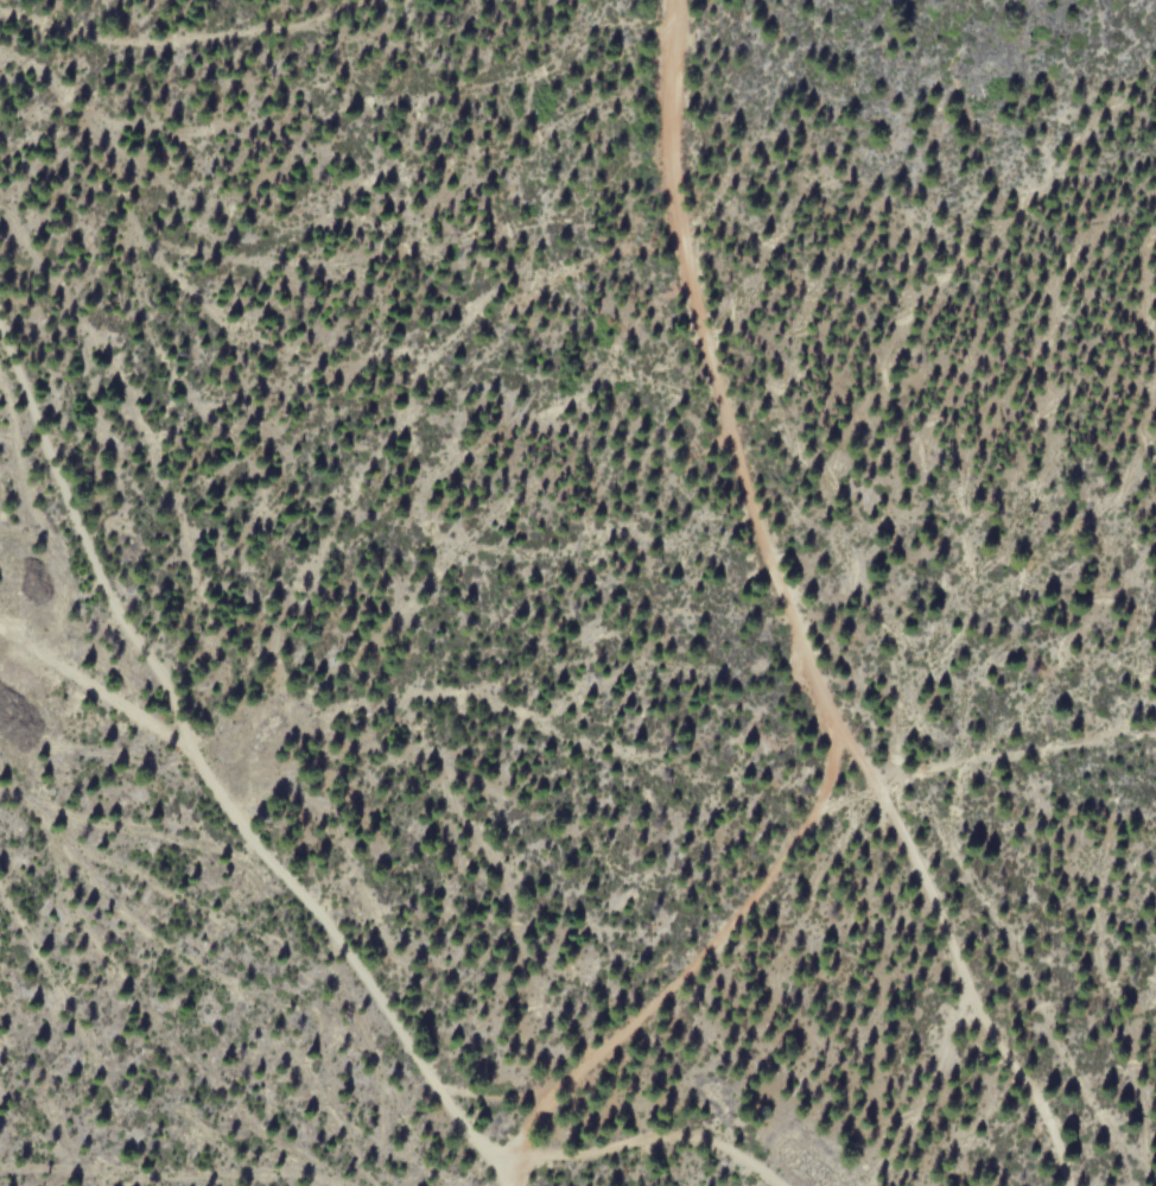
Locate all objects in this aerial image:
road: (787, 617)
road: (209, 781)
road: (688, 968)
road: (655, 1136)

